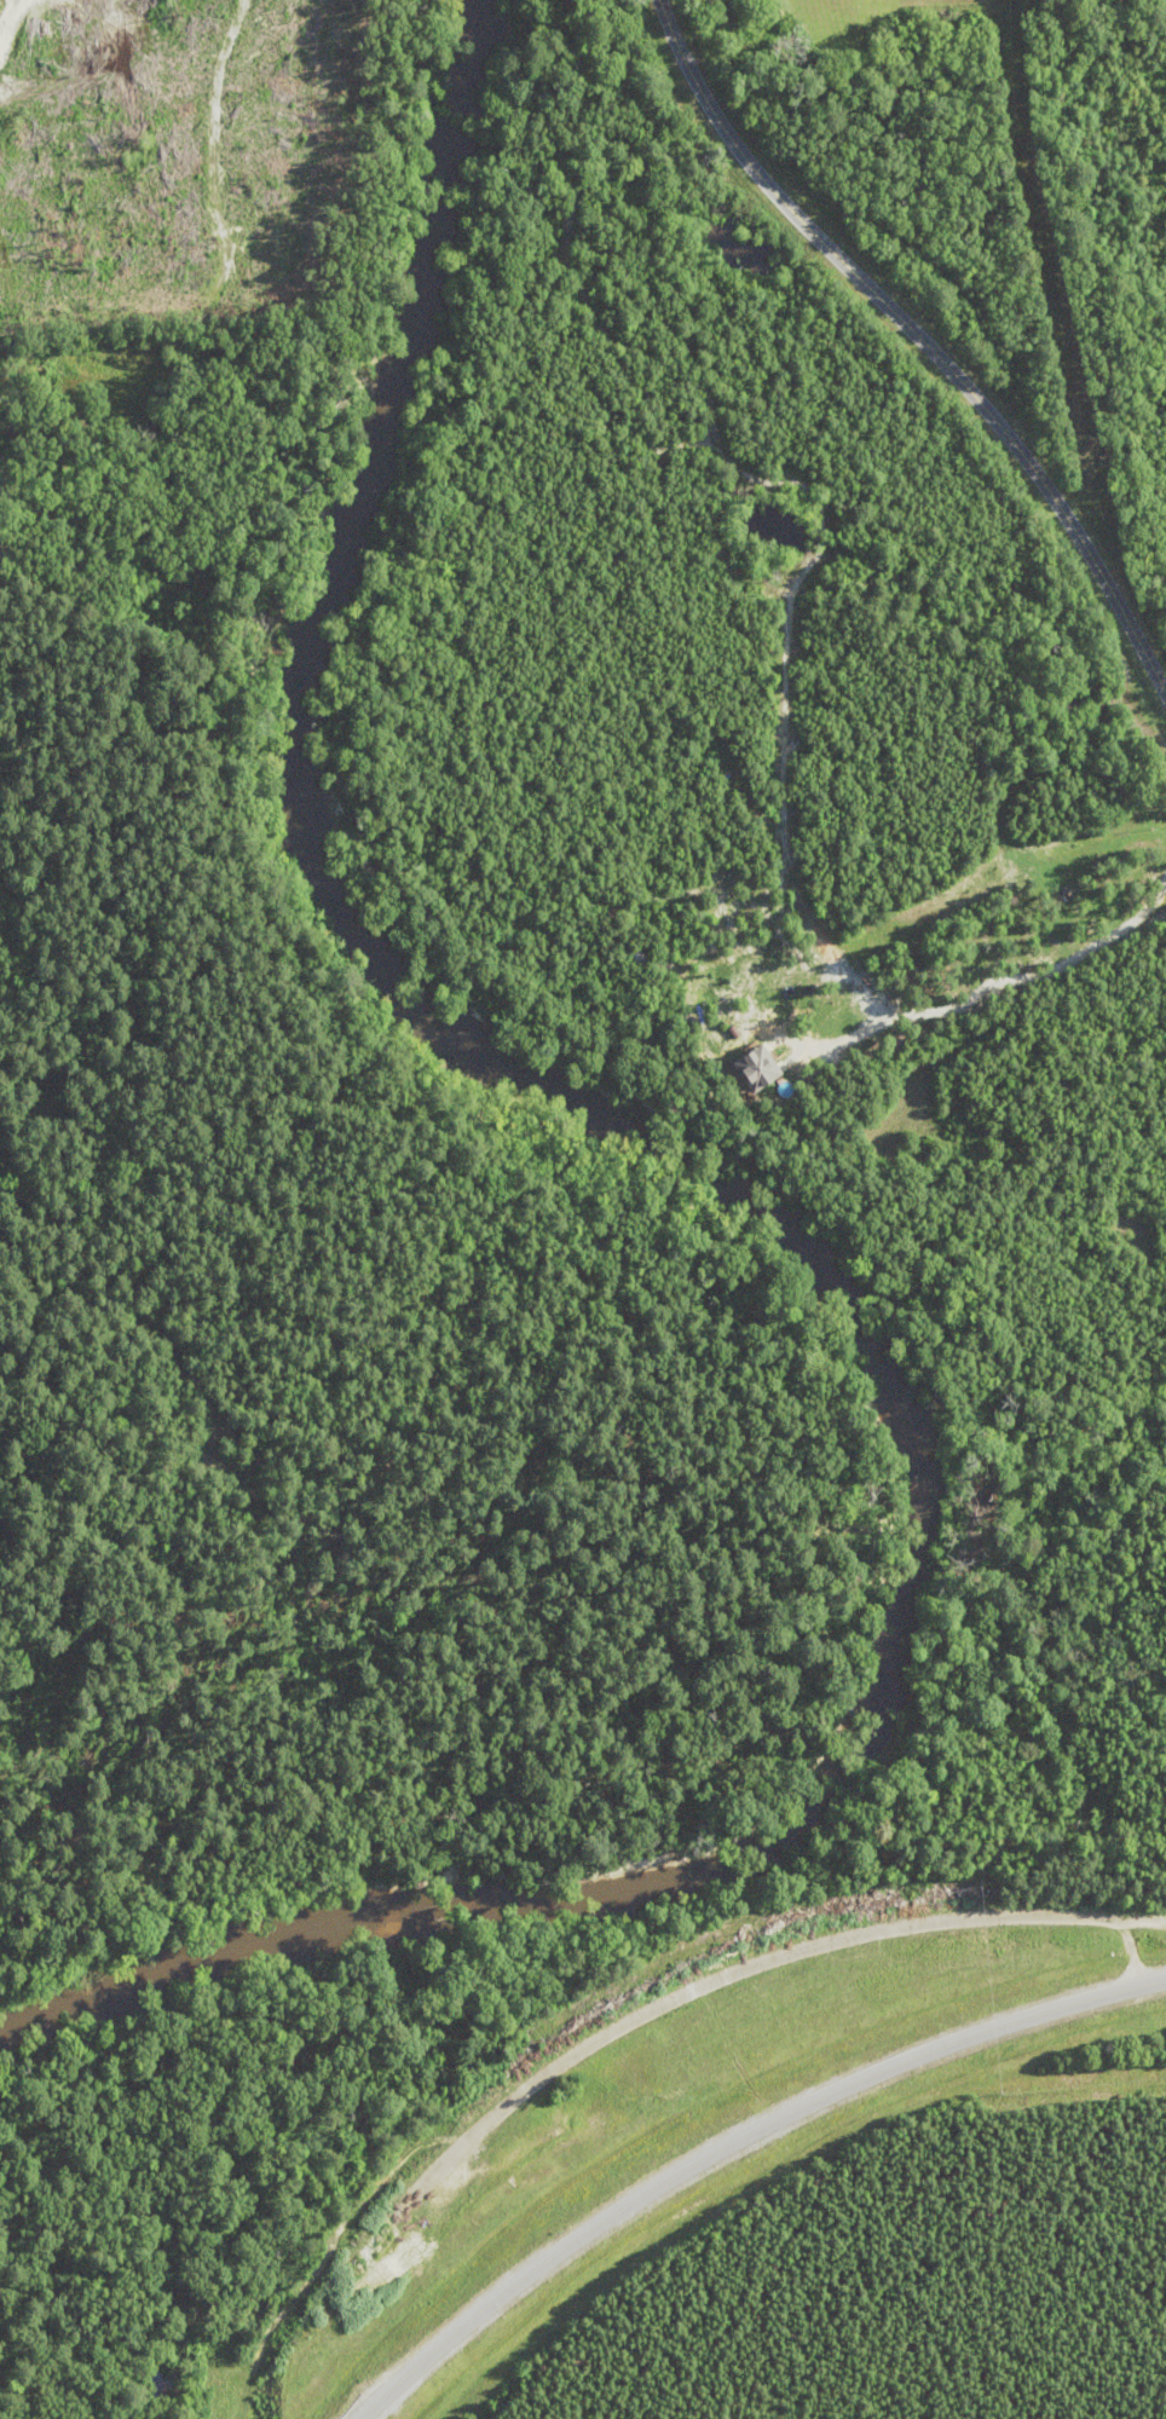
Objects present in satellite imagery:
road: (919, 339)
river: (781, 1245)
road: (732, 2143)

